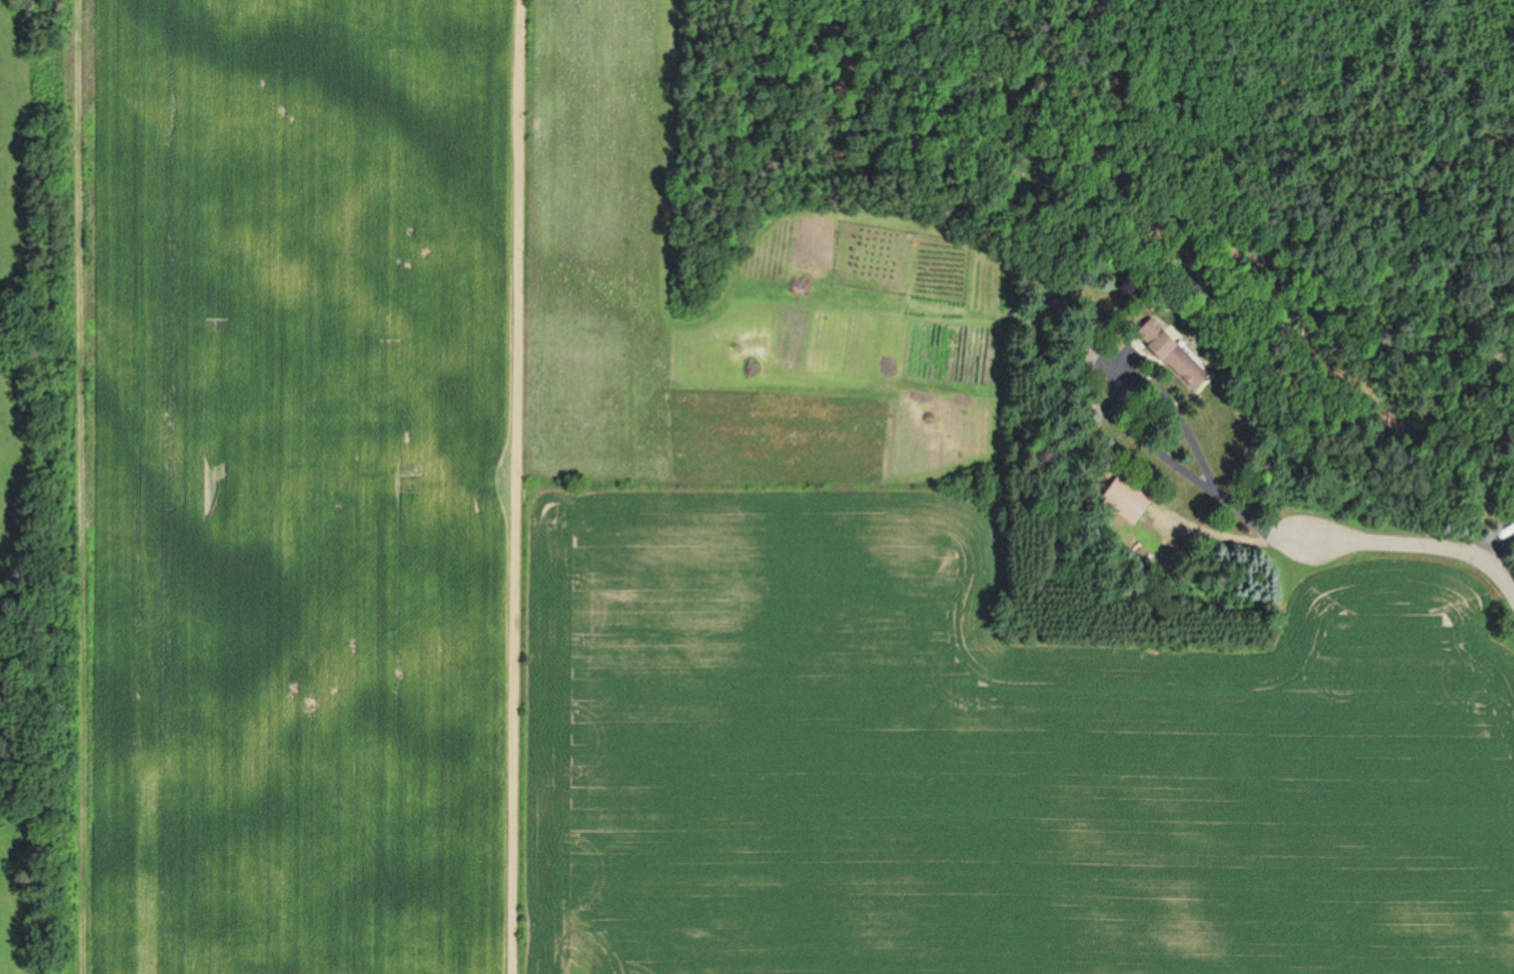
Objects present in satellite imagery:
building: (1171, 361)
road: (1120, 422)
road: (520, 486)
building: (1117, 498)
road: (1418, 546)

